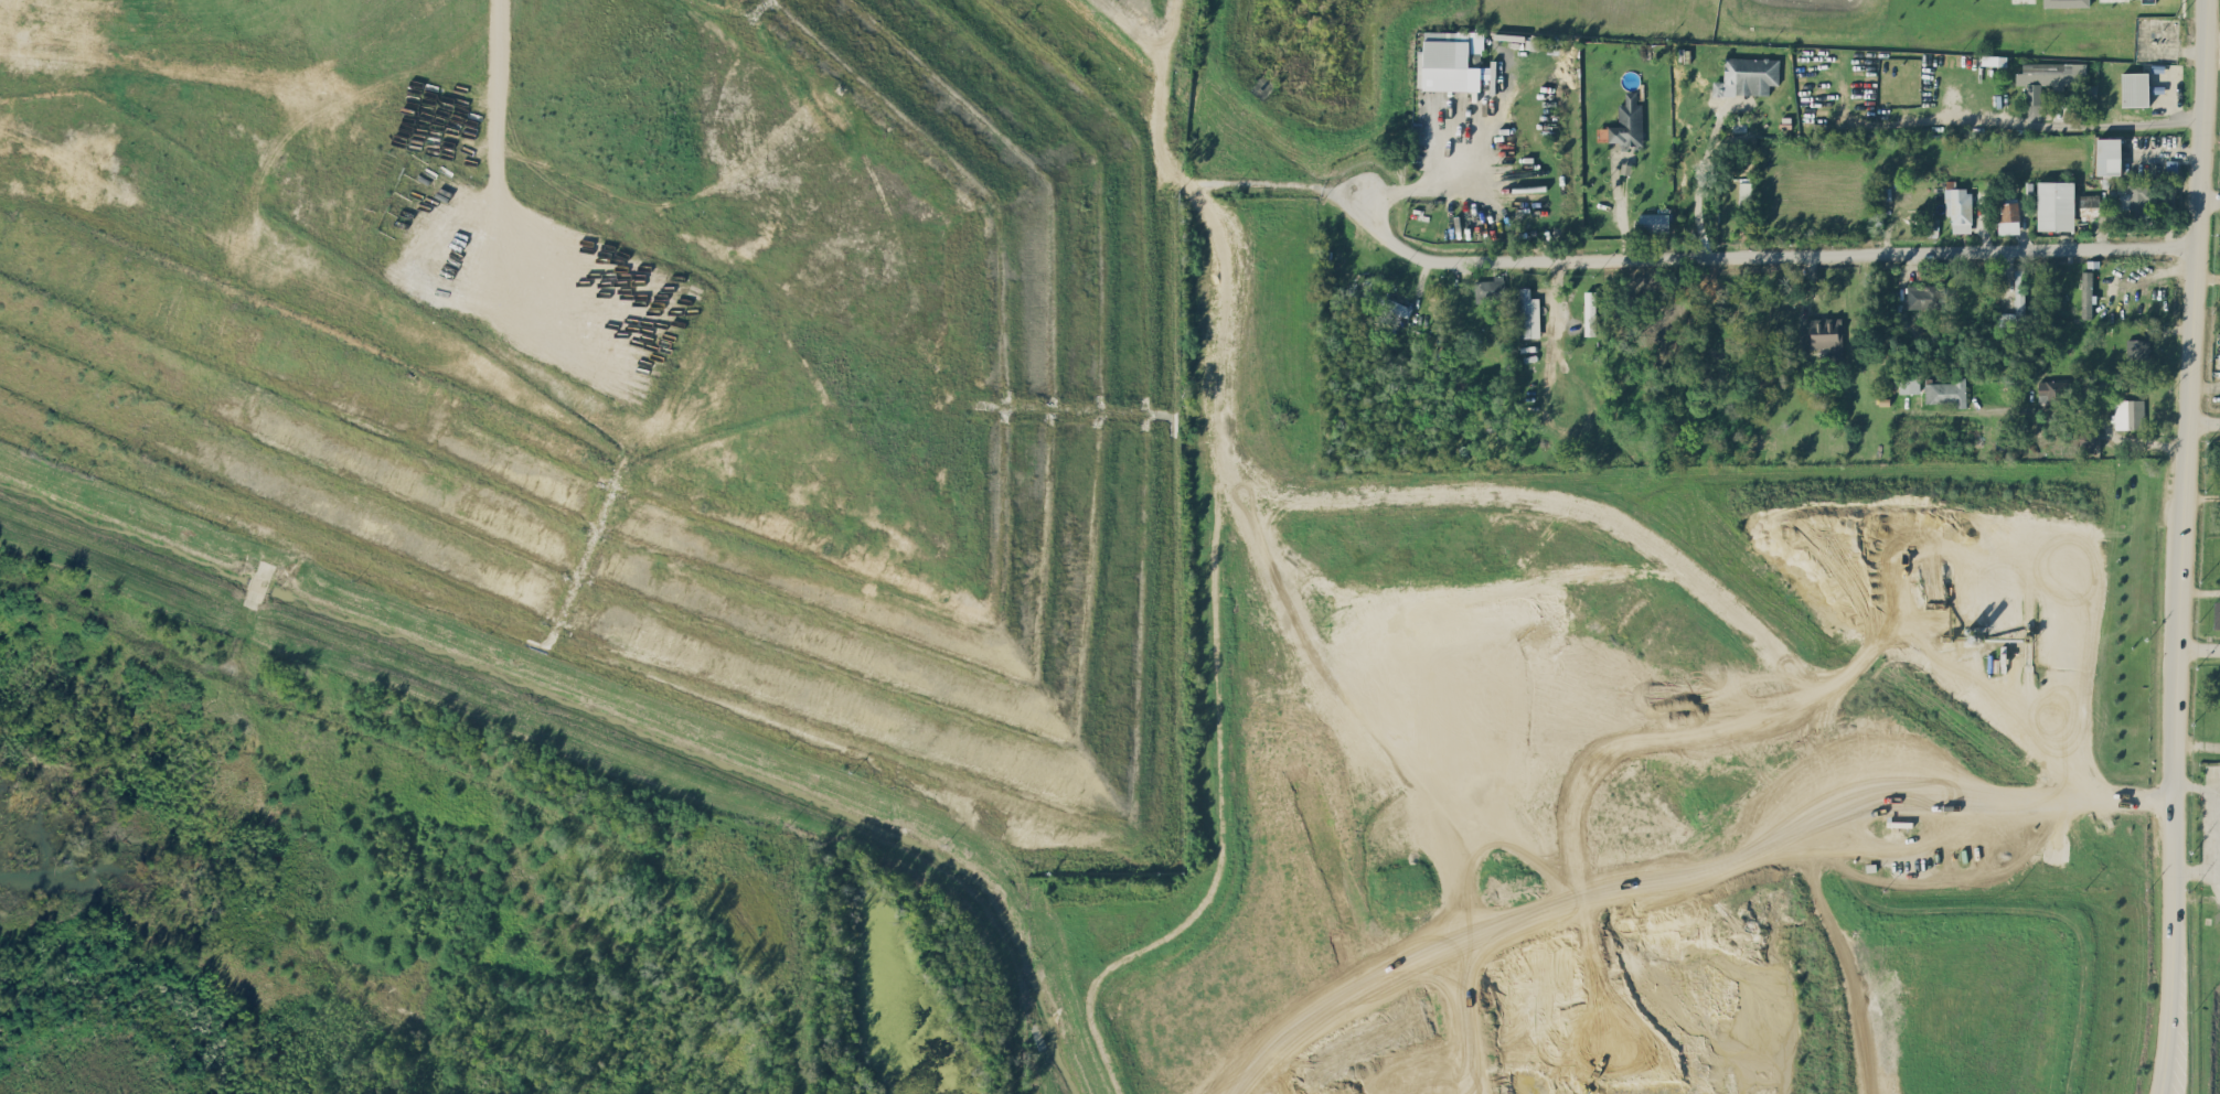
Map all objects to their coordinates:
building: (2066, 3)
building: (1449, 62)
building: (1748, 75)
building: (2048, 76)
building: (2135, 88)
building: (2088, 90)
road: (501, 112)
building: (1629, 122)
road: (2073, 127)
building: (2109, 155)
building: (2171, 167)
road: (1452, 182)
road: (1698, 187)
building: (1744, 191)
building: (2134, 194)
road: (2210, 197)
building: (2089, 203)
road: (1619, 205)
building: (2056, 205)
building: (1958, 208)
building: (2007, 217)
building: (1654, 222)
road: (1675, 253)
road: (1556, 286)
building: (1490, 289)
building: (2086, 293)
building: (1924, 296)
building: (1590, 312)
building: (1528, 313)
building: (1826, 335)
building: (2136, 348)
landfill: (662, 350)
building: (1909, 385)
building: (2053, 390)
building: (1946, 392)
road: (2092, 410)
building: (2128, 412)
road: (2205, 420)
road: (2202, 496)
road: (2181, 547)
building: (2217, 614)
road: (2197, 647)
road: (2195, 785)
road: (2218, 836)
road: (1747, 847)
road: (2196, 869)

